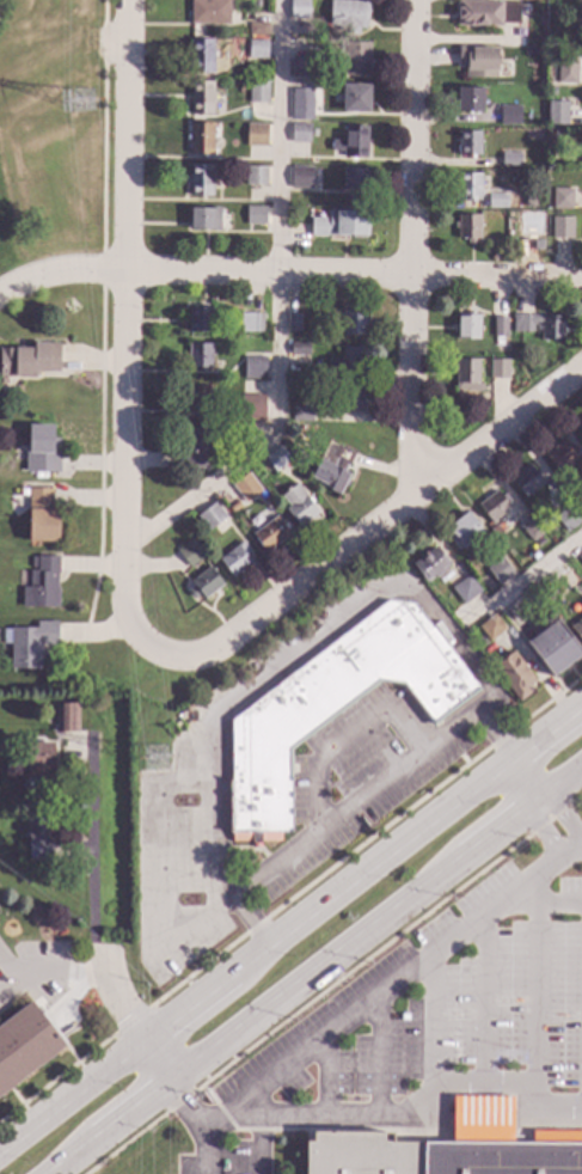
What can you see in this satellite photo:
building: (299, 8)
building: (209, 12)
building: (485, 13)
building: (348, 16)
building: (247, 17)
building: (578, 25)
building: (257, 29)
road: (112, 42)
building: (257, 49)
building: (202, 55)
building: (356, 59)
building: (477, 60)
building: (300, 66)
building: (537, 67)
building: (566, 72)
building: (257, 91)
building: (551, 91)
building: (203, 97)
building: (355, 97)
building: (470, 99)
power tower: (84, 102)
building: (301, 103)
building: (557, 112)
building: (509, 115)
building: (312, 132)
building: (300, 133)
building: (256, 134)
building: (557, 134)
building: (200, 137)
building: (351, 141)
building: (552, 142)
building: (468, 143)
building: (510, 159)
building: (255, 175)
building: (301, 177)
building: (355, 178)
building: (201, 179)
building: (468, 185)
building: (562, 197)
building: (496, 201)
building: (531, 201)
building: (256, 215)
building: (201, 218)
building: (341, 224)
building: (528, 225)
building: (467, 227)
building: (562, 227)
road: (415, 238)
road: (353, 270)
road: (61, 276)
road: (278, 308)
building: (200, 318)
building: (251, 323)
building: (293, 323)
building: (354, 323)
building: (467, 326)
building: (500, 326)
building: (553, 328)
road: (124, 337)
building: (299, 348)
building: (200, 355)
building: (30, 360)
building: (347, 361)
building: (255, 367)
building: (498, 368)
building: (466, 375)
building: (198, 397)
building: (353, 400)
building: (252, 406)
building: (301, 414)
building: (580, 428)
building: (243, 432)
building: (197, 447)
building: (42, 450)
building: (560, 454)
building: (277, 458)
building: (332, 471)
building: (526, 481)
building: (249, 483)
building: (555, 494)
building: (298, 505)
building: (233, 506)
building: (494, 506)
building: (42, 515)
building: (210, 515)
road: (374, 518)
building: (569, 518)
building: (531, 528)
building: (464, 530)
building: (270, 533)
building: (190, 552)
building: (580, 556)
building: (237, 561)
building: (430, 563)
building: (498, 568)
road: (522, 577)
building: (42, 582)
building: (204, 583)
building: (544, 585)
building: (465, 589)
parking lot: (351, 591)
building: (491, 628)
building: (577, 628)
building: (31, 643)
building: (553, 647)
building: (514, 674)
building: (333, 707)
building: (66, 716)
road: (349, 736)
road: (507, 753)
power tower: (159, 758)
building: (38, 759)
parking lot: (361, 771)
road: (196, 777)
road: (558, 779)
road: (558, 817)
road: (498, 826)
road: (543, 827)
building: (39, 837)
road: (92, 838)
parking lot: (184, 849)
road: (361, 869)
road: (547, 904)
road: (251, 918)
road: (314, 967)
road: (50, 968)
road: (391, 984)
road: (115, 992)
road: (535, 993)
road: (483, 998)
road: (430, 1017)
building: (24, 1044)
road: (378, 1056)
road: (154, 1060)
road: (325, 1075)
road: (71, 1094)
road: (417, 1095)
road: (184, 1105)
road: (131, 1108)
building: (451, 1147)
road: (202, 1151)
road: (72, 1155)
road: (54, 1172)

